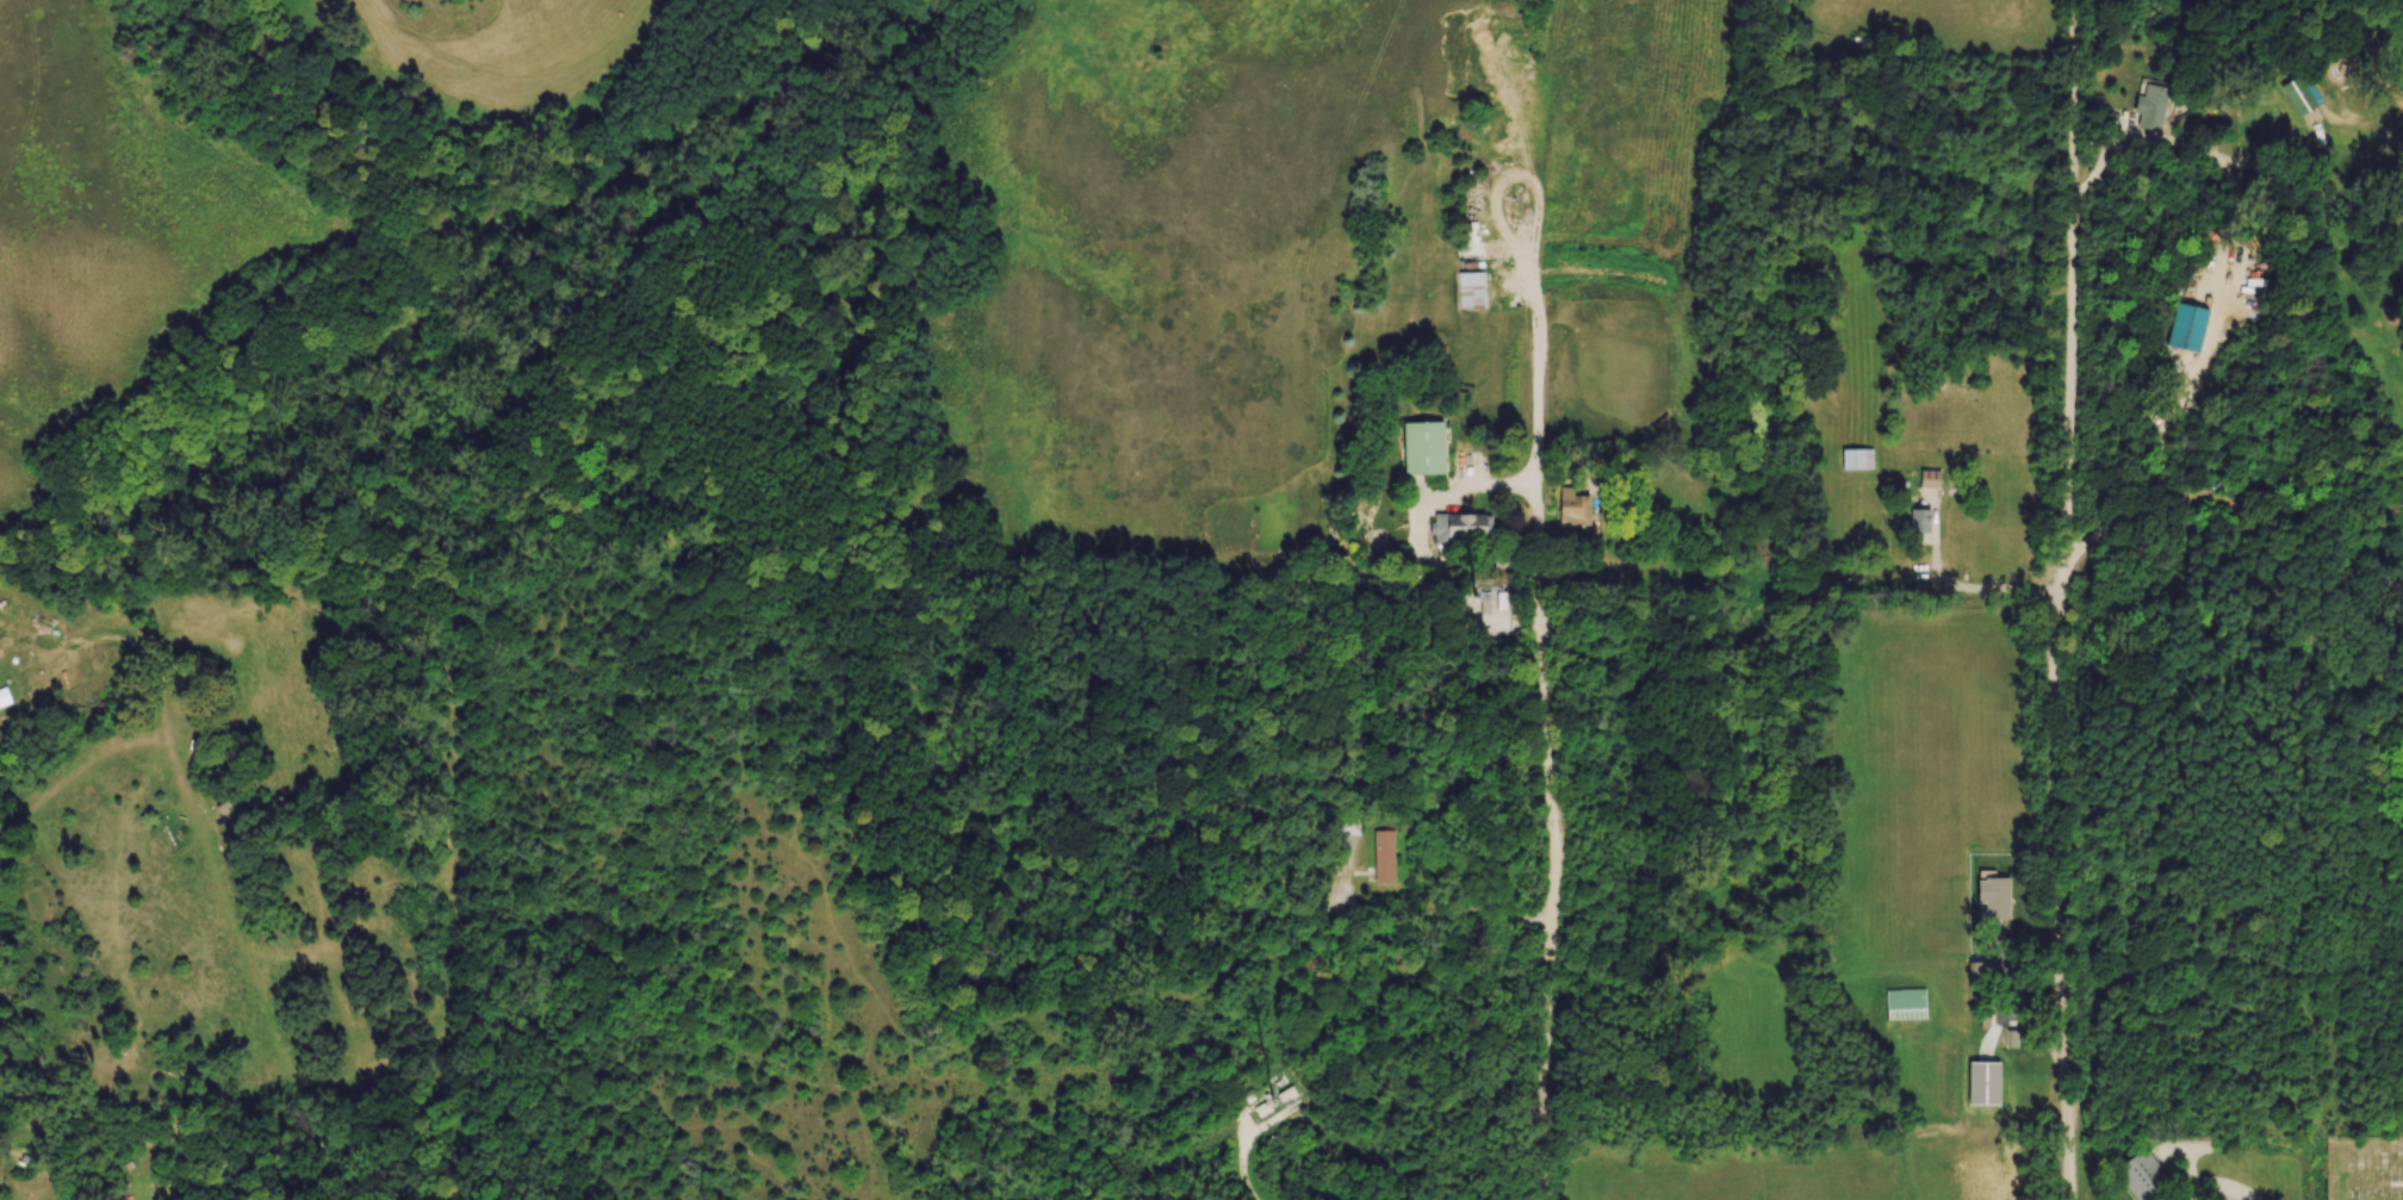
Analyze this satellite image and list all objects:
building: (2297, 95)
building: (2150, 106)
park: (331, 224)
road: (2072, 256)
building: (1470, 290)
building: (2185, 328)
building: (1422, 448)
building: (1856, 459)
building: (1929, 478)
building: (1572, 508)
building: (1915, 522)
building: (1461, 527)
road: (1980, 583)
building: (1484, 602)
road: (1547, 758)
road: (2053, 819)
building: (1383, 856)
building: (1993, 896)
building: (1905, 1005)
road: (513, 1163)
road: (2069, 1163)
park: (2246, 1168)
building: (2141, 1175)

